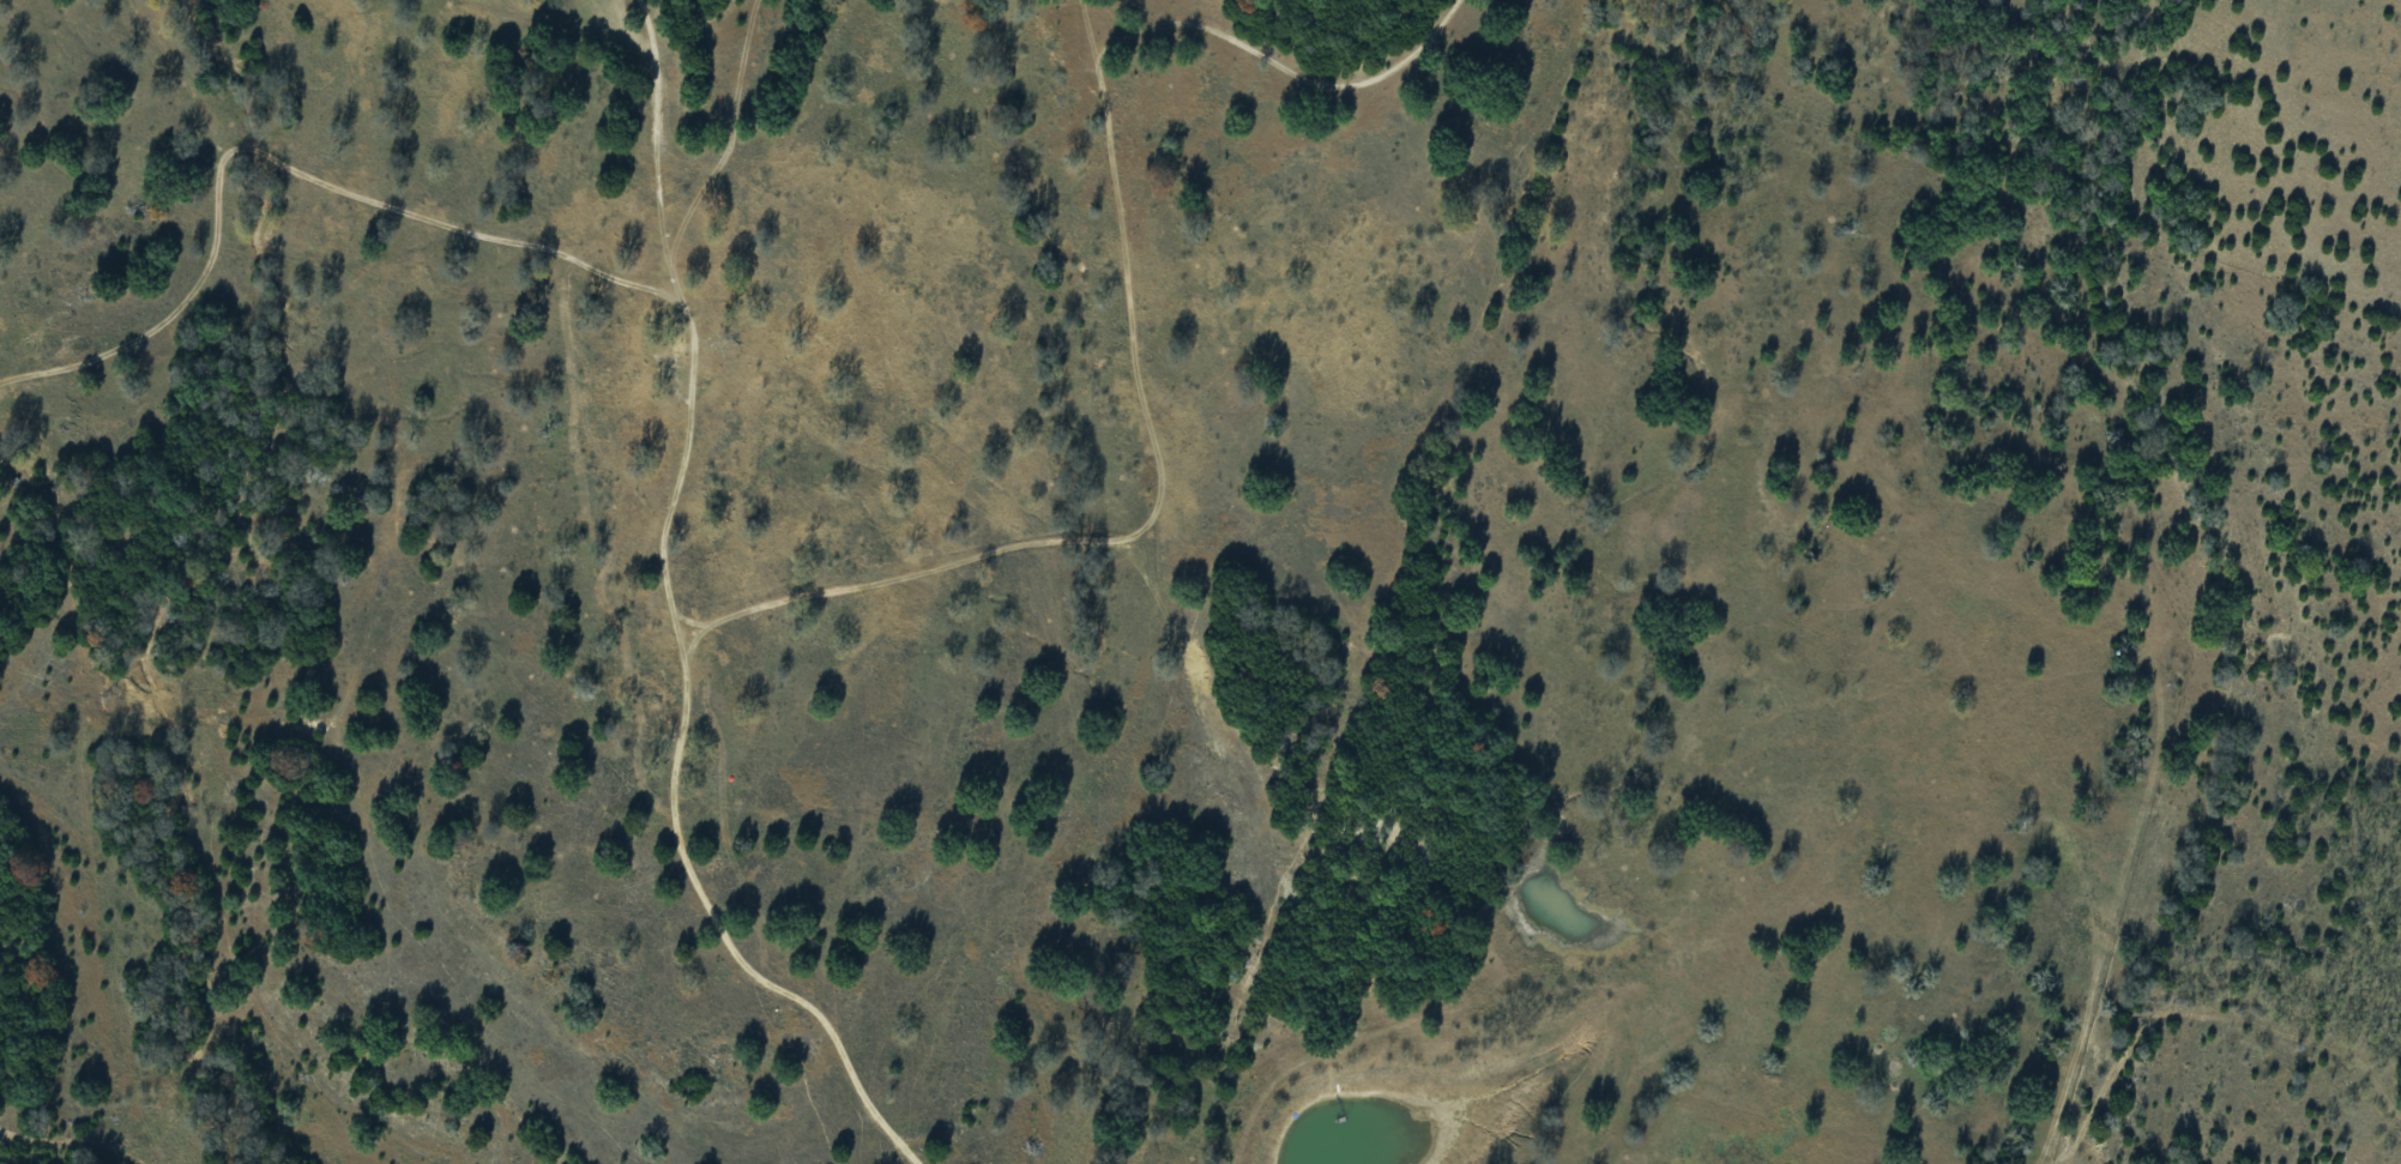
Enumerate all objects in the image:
road: (2246, 1062)
road: (1720, 1130)

